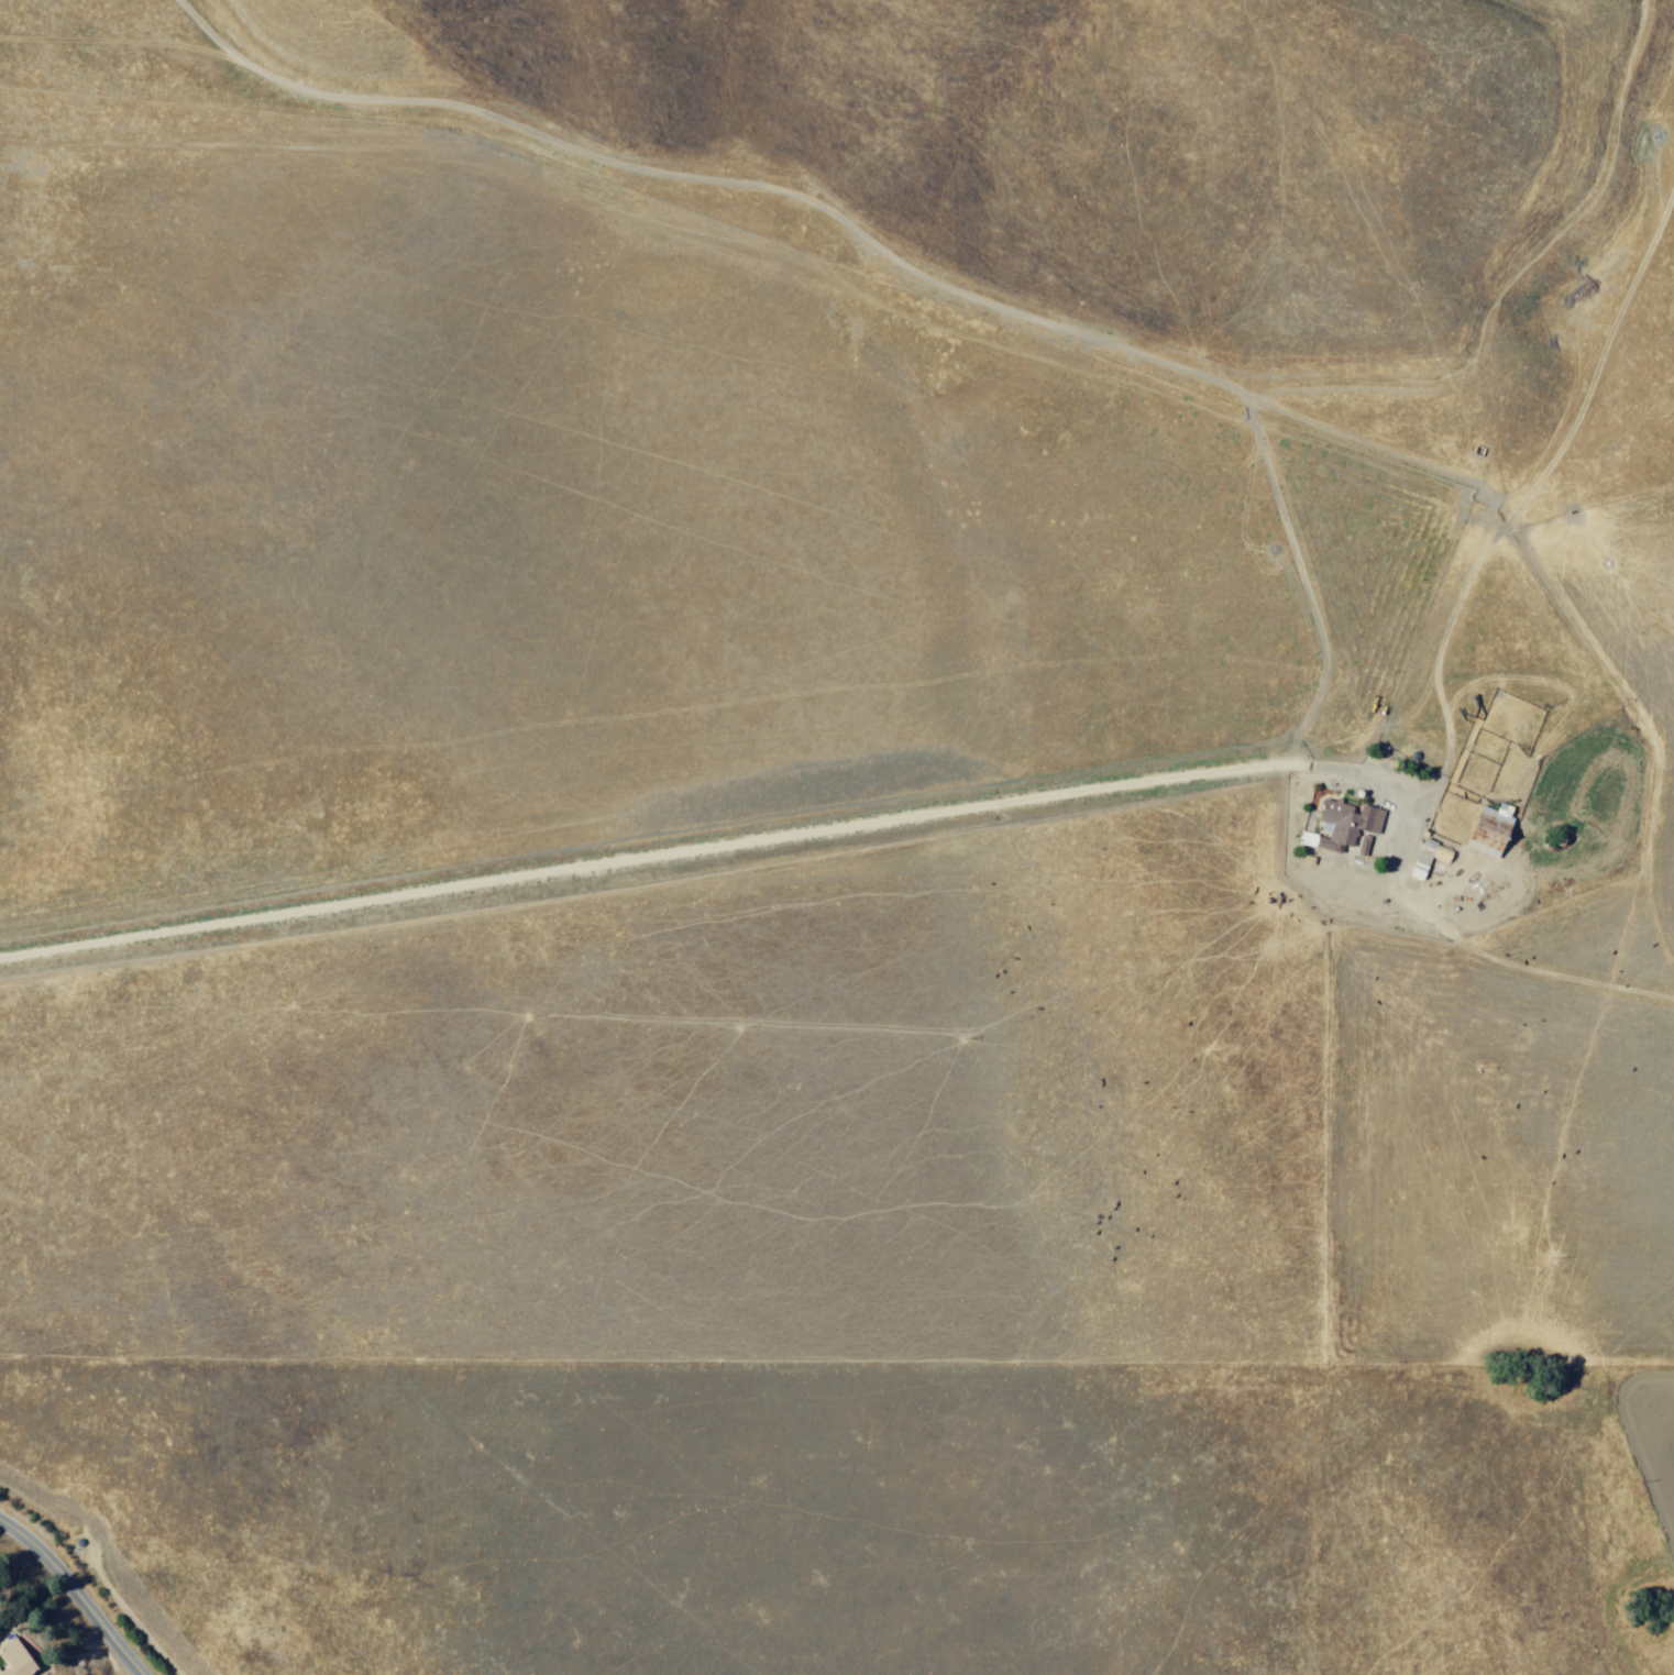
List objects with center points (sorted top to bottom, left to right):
road: (1012, 310)
road: (840, 823)
building: (1345, 828)
crop: (841, 831)
building: (1485, 835)
building: (1420, 859)
road: (78, 1586)
building: (20, 1662)

